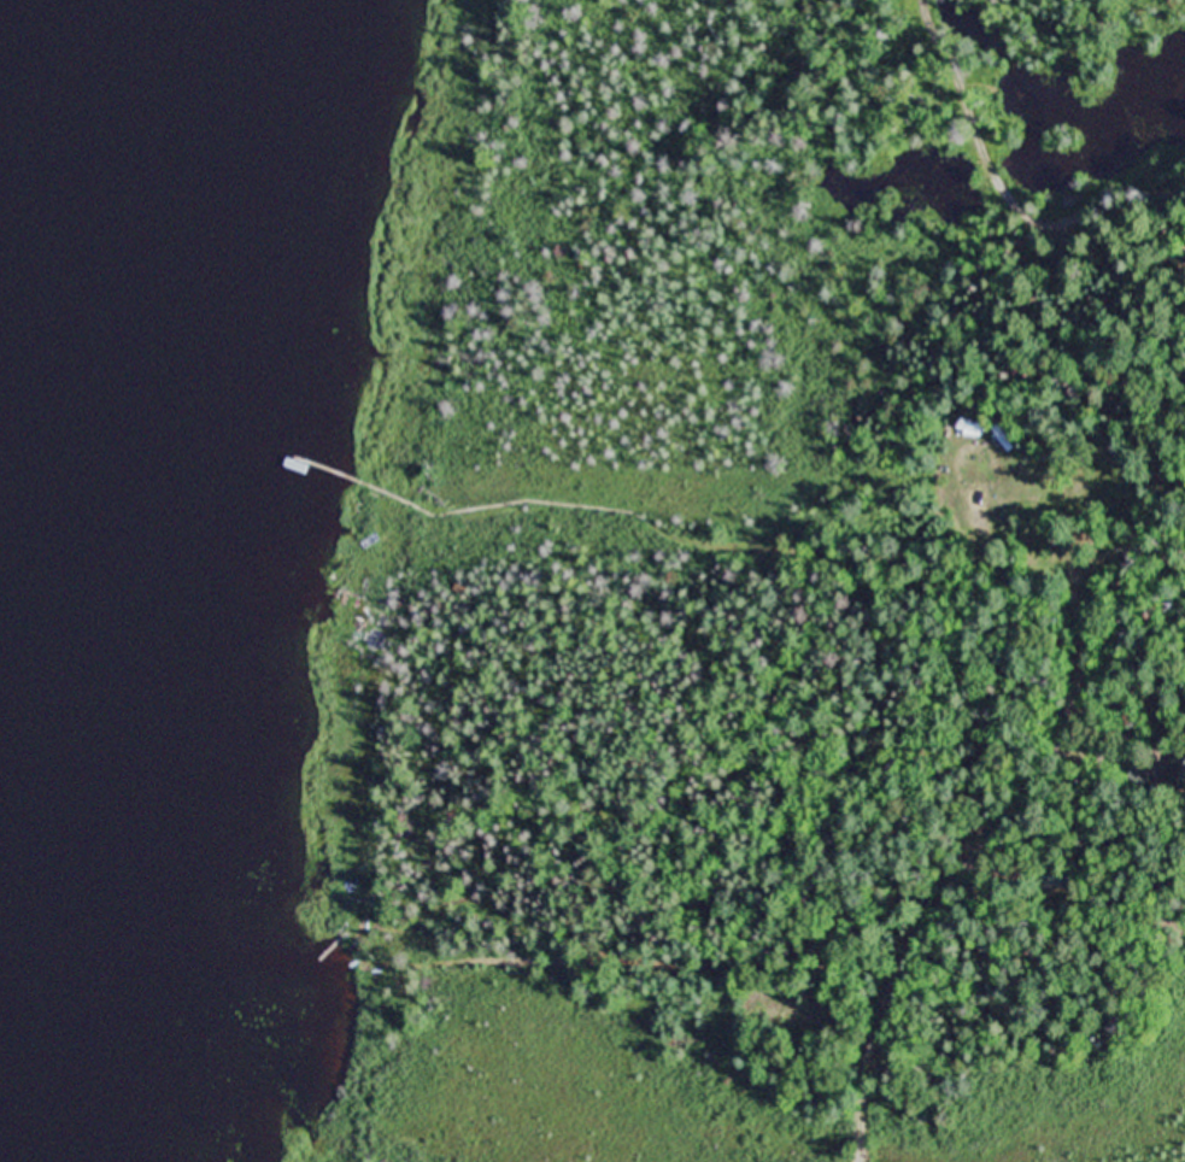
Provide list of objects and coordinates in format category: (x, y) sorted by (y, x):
building: (1177, 771)
building: (1138, 780)
road: (964, 870)
building: (1058, 876)

